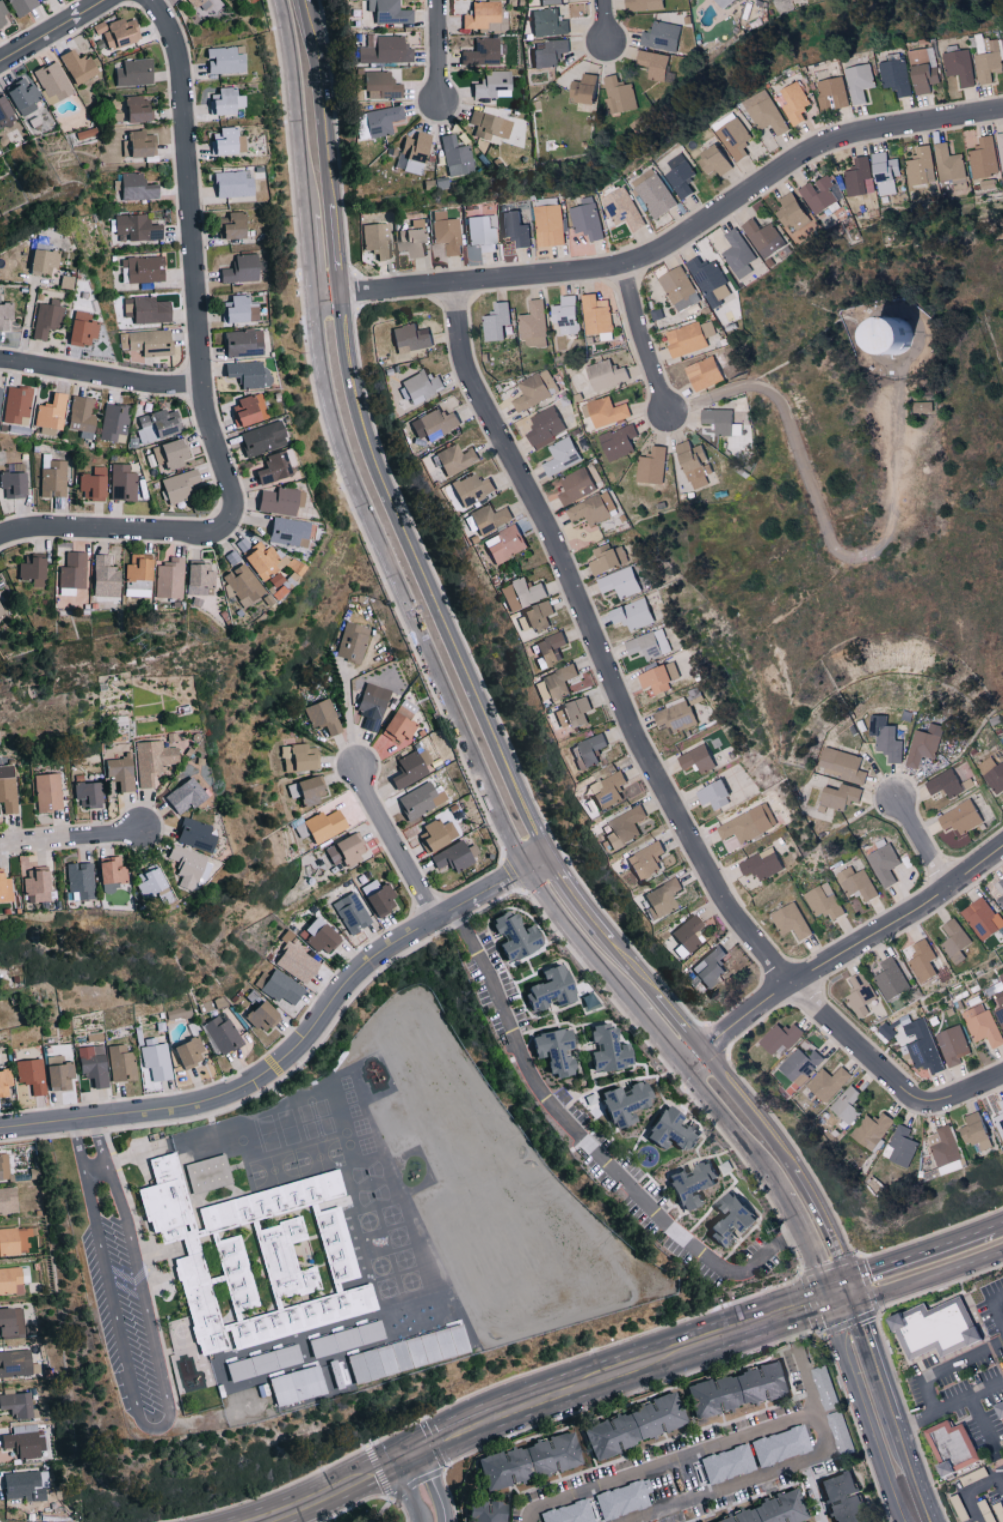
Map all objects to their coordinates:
building: (44, 0)
building: (812, 1)
building: (551, 2)
building: (727, 3)
building: (652, 5)
building: (22, 6)
building: (390, 12)
building: (4, 14)
building: (483, 15)
building: (550, 23)
road: (607, 24)
road: (49, 30)
building: (120, 32)
building: (664, 36)
building: (386, 50)
building: (483, 53)
building: (552, 53)
road: (438, 54)
building: (921, 57)
building: (226, 60)
building: (987, 63)
building: (80, 66)
building: (959, 66)
building: (659, 71)
building: (136, 72)
building: (898, 77)
building: (927, 78)
building: (53, 82)
building: (861, 83)
building: (494, 84)
building: (383, 86)
building: (587, 89)
building: (833, 94)
building: (25, 95)
building: (620, 96)
building: (227, 102)
building: (795, 105)
road: (296, 107)
building: (140, 109)
building: (6, 111)
building: (766, 113)
building: (384, 120)
building: (491, 125)
building: (737, 139)
building: (227, 141)
building: (140, 145)
building: (1000, 148)
road: (323, 149)
building: (417, 152)
building: (457, 156)
building: (983, 157)
building: (718, 162)
building: (920, 166)
building: (950, 166)
building: (883, 173)
building: (682, 177)
building: (858, 177)
building: (234, 184)
building: (137, 187)
building: (817, 193)
building: (656, 194)
building: (624, 209)
building: (788, 210)
building: (587, 221)
building: (234, 226)
building: (551, 226)
building: (138, 228)
building: (516, 229)
building: (446, 232)
building: (482, 234)
building: (762, 237)
building: (414, 238)
building: (377, 240)
road: (681, 245)
building: (737, 253)
road: (311, 258)
building: (45, 259)
building: (146, 269)
building: (242, 269)
building: (708, 278)
building: (678, 288)
road: (325, 299)
building: (237, 309)
building: (148, 310)
building: (564, 314)
building: (595, 314)
building: (6, 316)
building: (47, 319)
building: (496, 321)
building: (533, 324)
building: (84, 328)
building: (872, 333)
building: (411, 338)
building: (688, 338)
building: (147, 342)
building: (244, 343)
road: (644, 343)
building: (702, 373)
building: (247, 374)
building: (604, 374)
road: (104, 376)
road: (206, 377)
building: (420, 385)
building: (536, 389)
building: (0, 396)
building: (18, 405)
building: (920, 406)
building: (248, 411)
building: (604, 412)
building: (52, 413)
building: (83, 417)
building: (436, 420)
building: (720, 421)
building: (114, 423)
building: (158, 426)
building: (545, 427)
building: (264, 438)
building: (617, 442)
building: (172, 453)
building: (561, 456)
building: (454, 458)
building: (692, 464)
building: (274, 465)
building: (651, 465)
building: (15, 482)
building: (123, 483)
building: (95, 484)
building: (180, 486)
building: (575, 486)
building: (471, 489)
building: (277, 500)
building: (593, 509)
building: (488, 518)
road: (822, 518)
building: (285, 531)
building: (605, 557)
building: (265, 560)
building: (135, 567)
building: (29, 569)
building: (72, 570)
building: (102, 576)
building: (197, 577)
building: (168, 578)
building: (273, 579)
building: (243, 582)
building: (618, 582)
road: (423, 584)
building: (519, 593)
building: (0, 612)
building: (630, 614)
building: (536, 615)
building: (351, 642)
building: (647, 644)
building: (549, 648)
road: (438, 674)
building: (658, 677)
building: (557, 682)
building: (370, 704)
building: (571, 712)
building: (321, 715)
building: (673, 716)
road: (348, 717)
building: (395, 726)
road: (635, 738)
building: (886, 740)
building: (922, 745)
building: (588, 750)
building: (294, 757)
building: (151, 759)
building: (695, 759)
building: (840, 764)
building: (408, 767)
building: (6, 771)
building: (119, 772)
building: (992, 774)
building: (942, 783)
building: (307, 789)
building: (606, 790)
building: (47, 791)
building: (84, 793)
building: (182, 795)
building: (712, 795)
building: (840, 796)
building: (419, 799)
building: (959, 817)
building: (322, 825)
building: (623, 827)
building: (743, 827)
building: (193, 833)
building: (434, 834)
road: (71, 838)
road: (397, 844)
road: (923, 845)
building: (344, 849)
building: (453, 855)
building: (644, 861)
building: (760, 864)
building: (883, 864)
building: (187, 865)
building: (108, 869)
building: (78, 879)
building: (145, 880)
building: (1001, 881)
building: (855, 883)
building: (33, 884)
building: (5, 889)
road: (571, 894)
building: (378, 898)
building: (659, 898)
building: (822, 900)
building: (1000, 901)
building: (350, 911)
building: (981, 918)
building: (789, 920)
building: (685, 932)
building: (512, 935)
building: (318, 936)
building: (953, 940)
road: (841, 952)
building: (921, 960)
building: (294, 961)
building: (709, 966)
building: (890, 978)
building: (279, 986)
building: (546, 988)
building: (860, 993)
building: (999, 1006)
building: (259, 1016)
building: (981, 1025)
building: (221, 1032)
building: (781, 1037)
road: (662, 1038)
building: (952, 1045)
building: (922, 1046)
road: (299, 1047)
building: (603, 1048)
building: (187, 1050)
building: (549, 1050)
building: (156, 1059)
building: (120, 1063)
building: (91, 1064)
building: (801, 1065)
building: (57, 1073)
building: (30, 1074)
building: (3, 1081)
building: (827, 1083)
road: (972, 1090)
road: (743, 1101)
building: (620, 1103)
building: (846, 1105)
building: (999, 1118)
building: (668, 1129)
road: (734, 1129)
building: (870, 1130)
building: (972, 1132)
road: (589, 1145)
building: (901, 1146)
building: (943, 1150)
building: (3, 1167)
road: (96, 1170)
building: (686, 1184)
building: (6, 1200)
building: (725, 1219)
building: (214, 1224)
road: (997, 1227)
building: (13, 1240)
road: (809, 1249)
road: (919, 1256)
road: (929, 1278)
building: (12, 1279)
building: (292, 1280)
traffic signals: (855, 1295)
road: (842, 1299)
traffic signals: (830, 1304)
road: (992, 1311)
parking lot: (126, 1316)
road: (787, 1317)
building: (10, 1322)
building: (935, 1330)
building: (342, 1335)
road: (875, 1358)
building: (260, 1359)
building: (15, 1363)
road: (646, 1363)
road: (945, 1369)
building: (334, 1374)
building: (295, 1385)
building: (825, 1388)
building: (738, 1389)
building: (16, 1404)
road: (951, 1406)
building: (999, 1409)
road: (866, 1413)
road: (476, 1425)
building: (634, 1425)
road: (158, 1427)
road: (986, 1431)
building: (23, 1441)
building: (780, 1445)
building: (951, 1449)
traffic signals: (406, 1456)
building: (530, 1461)
road: (666, 1461)
building: (726, 1464)
road: (792, 1465)
road: (912, 1472)
road: (1001, 1482)
building: (22, 1485)
road: (425, 1486)
road: (314, 1492)
road: (810, 1492)
road: (970, 1492)
building: (843, 1498)
building: (622, 1499)
road: (397, 1500)
building: (767, 1509)
building: (487, 1511)
park: (373, 1512)
building: (569, 1513)

